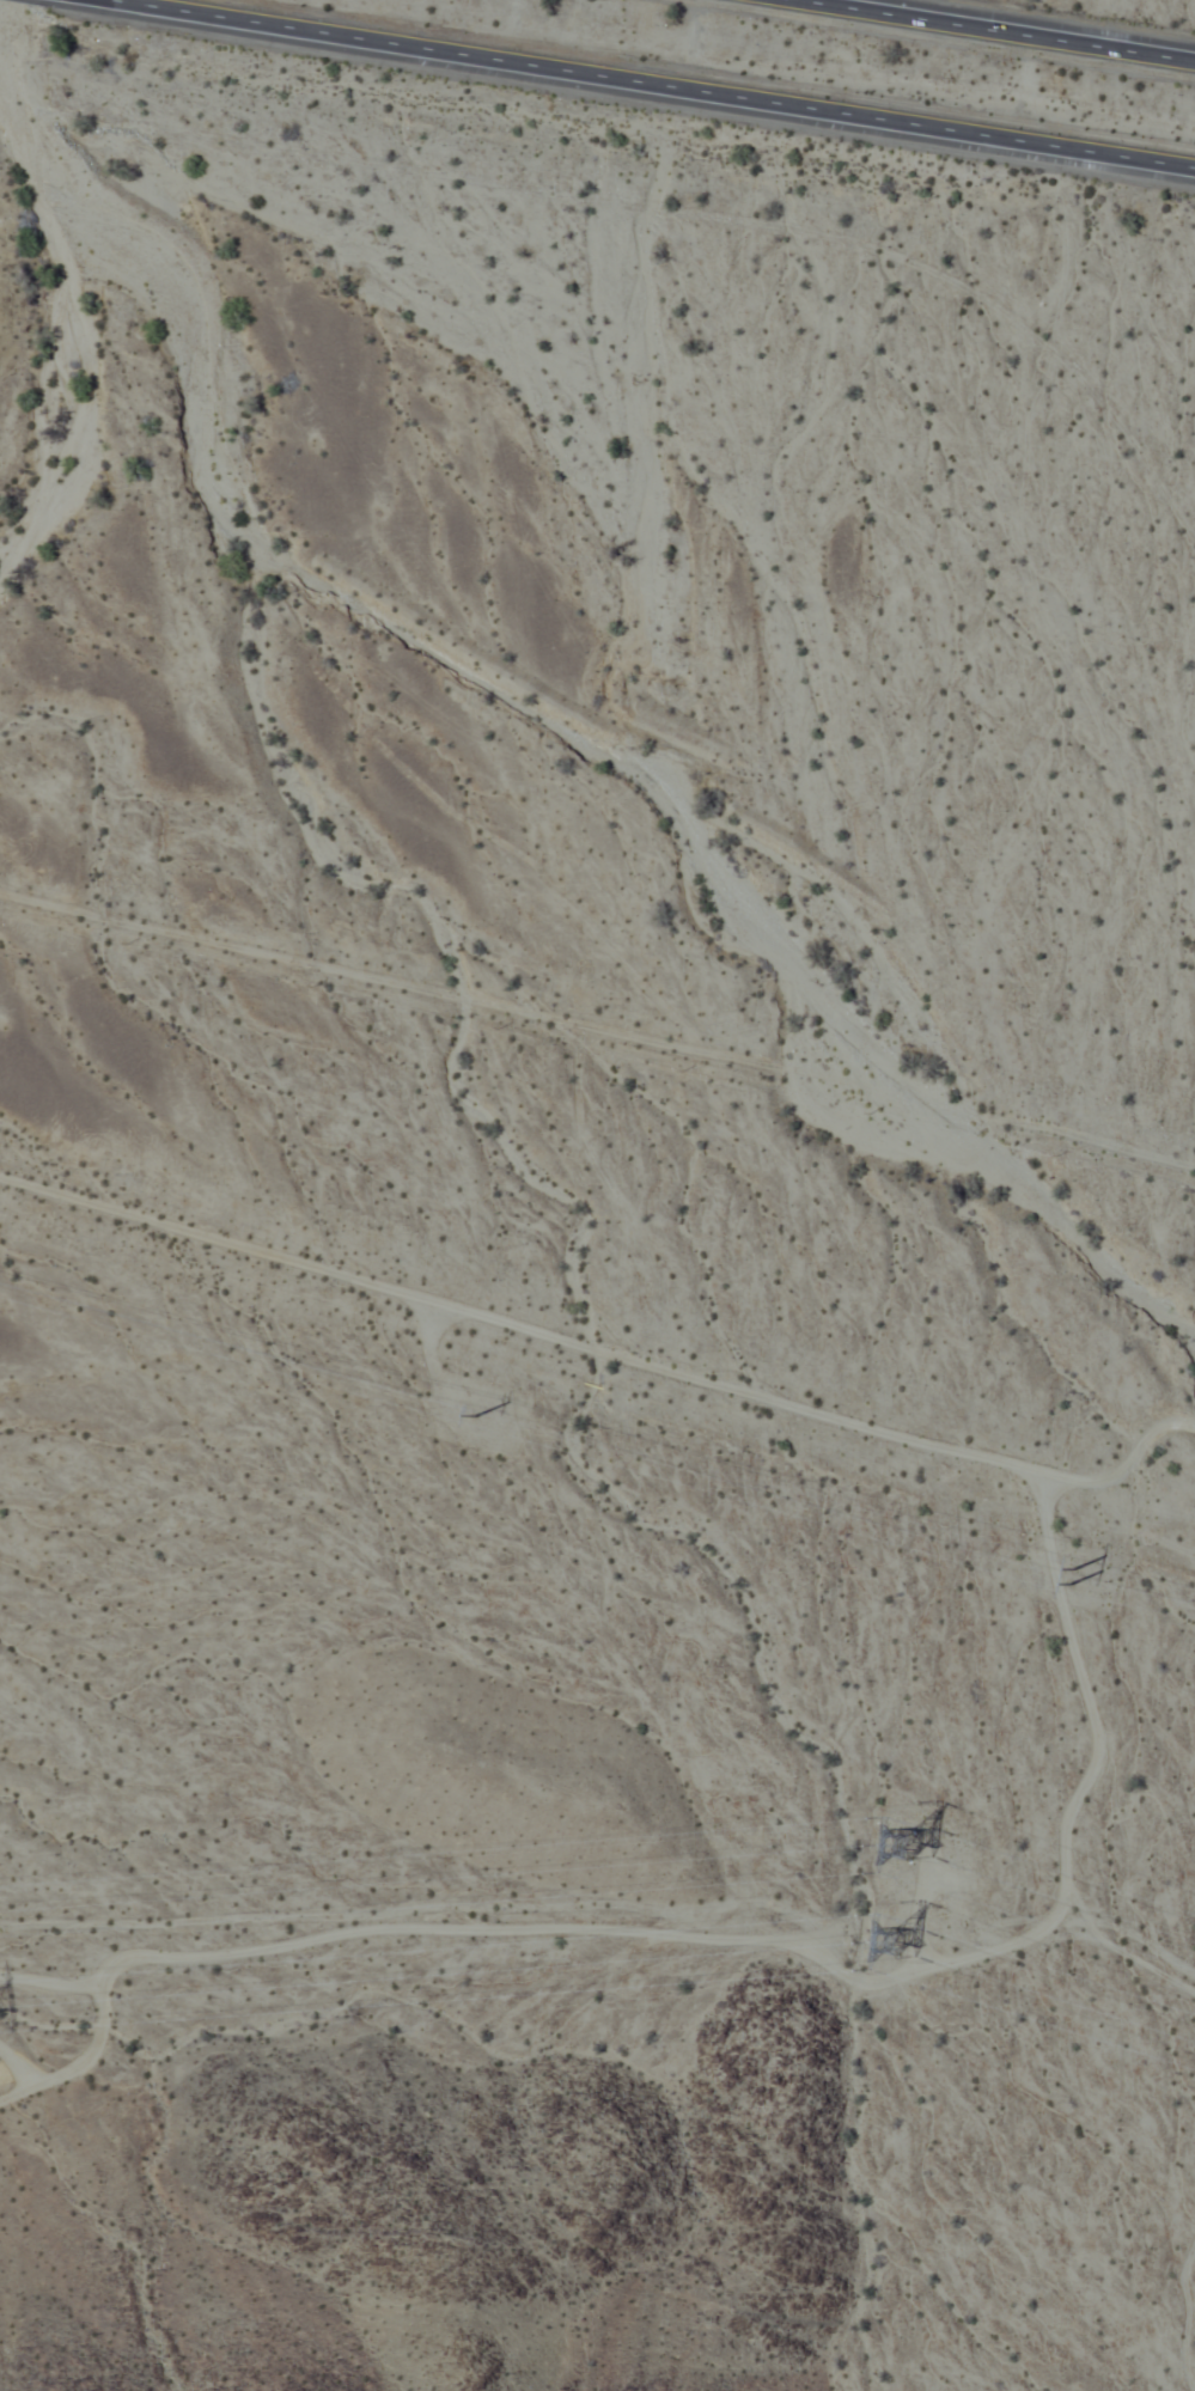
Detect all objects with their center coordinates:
road: (1013, 28)
road: (630, 87)
road: (597, 1029)
road: (605, 1353)
power tower: (1056, 1582)
power tower: (879, 1846)
power tower: (884, 1934)

